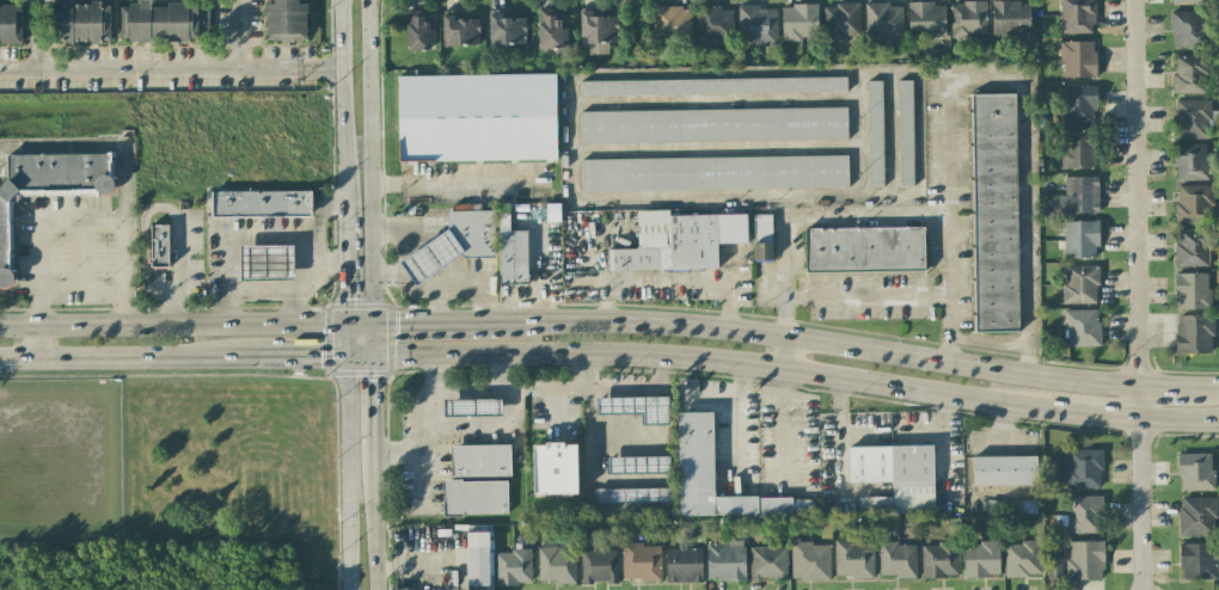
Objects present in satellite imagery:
building: (1190, 1)
building: (1077, 16)
building: (286, 19)
building: (1010, 19)
building: (841, 20)
building: (926, 20)
building: (81, 21)
building: (163, 21)
building: (800, 21)
building: (883, 21)
building: (713, 23)
building: (11, 24)
building: (670, 24)
building: (756, 24)
building: (506, 29)
building: (1188, 29)
building: (419, 30)
building: (459, 30)
building: (551, 30)
building: (598, 31)
road: (241, 36)
road: (41, 38)
building: (1077, 59)
road: (170, 74)
building: (1189, 74)
road: (966, 79)
building: (712, 86)
road: (342, 99)
building: (1078, 103)
building: (477, 117)
building: (1192, 118)
building: (713, 125)
building: (875, 133)
building: (905, 133)
building: (1078, 149)
building: (1190, 161)
road: (369, 164)
building: (713, 173)
road: (454, 182)
building: (48, 185)
road: (1135, 193)
building: (1079, 195)
road: (698, 197)
building: (1194, 203)
building: (262, 204)
road: (161, 205)
road: (320, 208)
building: (994, 213)
road: (80, 219)
building: (471, 235)
road: (259, 236)
building: (762, 238)
building: (1080, 239)
building: (678, 241)
building: (159, 245)
building: (1192, 247)
road: (399, 248)
building: (512, 250)
building: (864, 250)
building: (428, 259)
road: (327, 262)
building: (256, 263)
road: (348, 263)
road: (730, 264)
building: (1080, 284)
road: (259, 290)
building: (1192, 290)
road: (451, 291)
road: (78, 293)
traffic signals: (349, 297)
road: (870, 306)
road: (435, 309)
road: (418, 326)
road: (361, 327)
traffic signals: (399, 327)
building: (1080, 327)
road: (174, 328)
building: (1194, 334)
road: (785, 340)
road: (803, 340)
road: (373, 342)
road: (350, 343)
road: (37, 344)
road: (133, 358)
road: (308, 358)
traffic signals: (321, 358)
road: (709, 361)
traffic signals: (373, 380)
road: (558, 386)
road: (635, 389)
road: (1170, 389)
road: (490, 392)
road: (1211, 392)
road: (715, 404)
road: (373, 405)
building: (473, 408)
building: (637, 408)
road: (1101, 416)
road: (740, 422)
road: (1178, 422)
road: (429, 429)
road: (841, 431)
road: (862, 438)
road: (944, 441)
building: (694, 455)
building: (480, 461)
building: (638, 465)
building: (555, 468)
building: (1083, 469)
building: (1195, 471)
building: (1005, 472)
road: (349, 474)
building: (898, 475)
road: (1140, 488)
building: (632, 496)
building: (476, 498)
building: (875, 506)
building: (1084, 514)
building: (1196, 516)
road: (374, 522)
building: (478, 558)
building: (725, 559)
building: (853, 559)
building: (896, 559)
building: (939, 559)
building: (981, 559)
building: (1023, 559)
building: (1084, 559)
building: (641, 561)
building: (810, 561)
building: (1196, 561)
building: (767, 563)
road: (405, 564)
building: (556, 565)
building: (684, 565)
building: (599, 566)
building: (513, 567)
building: (1054, 567)

